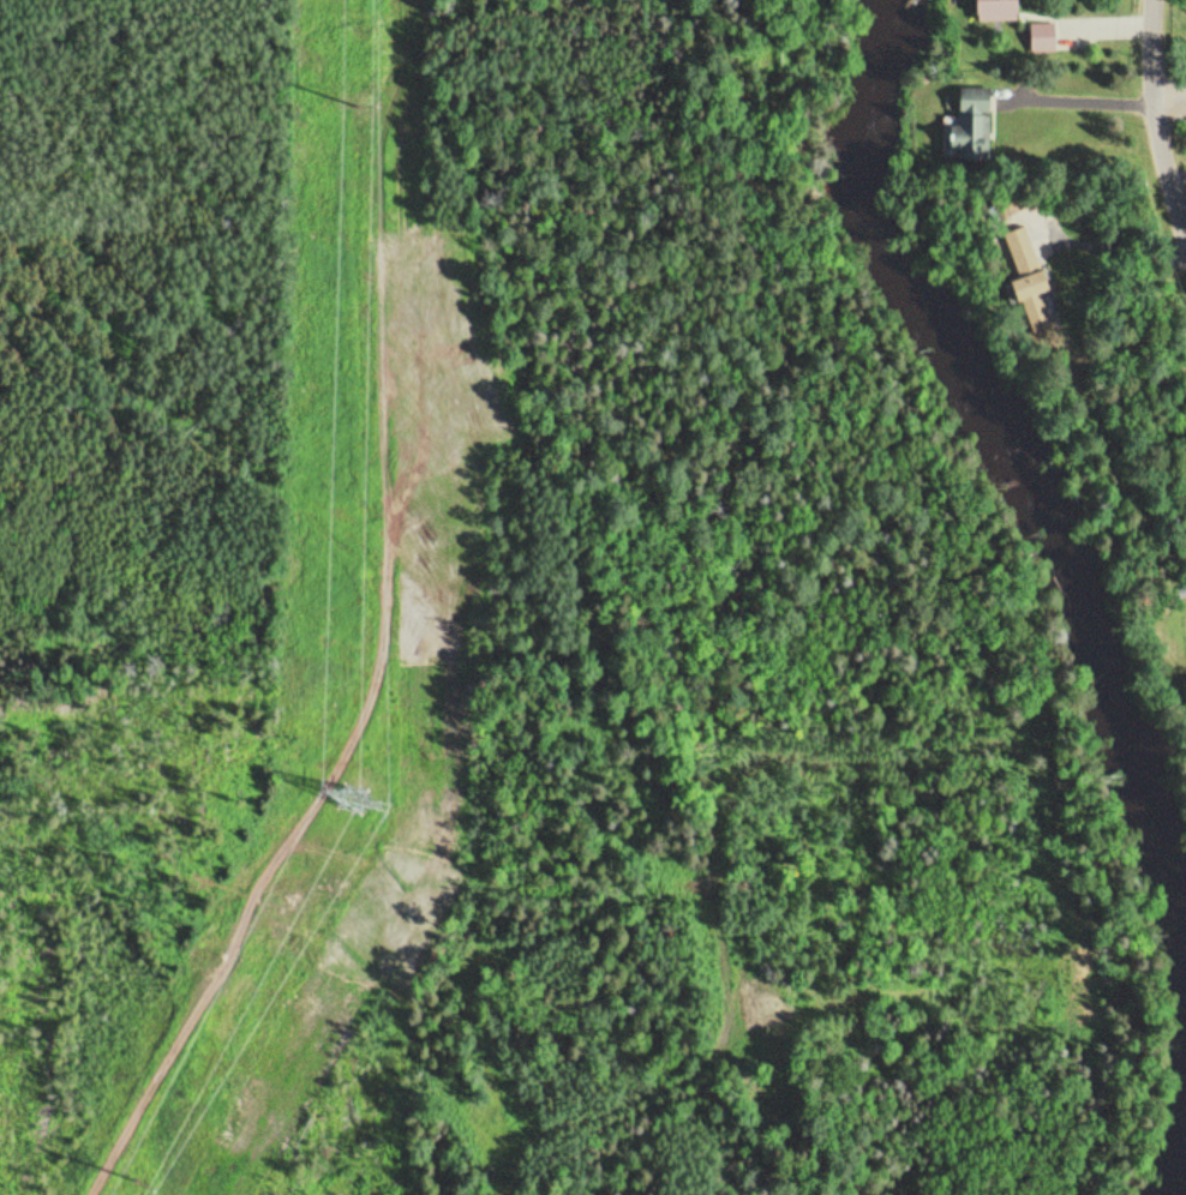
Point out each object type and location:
building: (1002, 10)
building: (1046, 37)
road: (1168, 94)
power tower: (358, 107)
building: (971, 126)
road: (1154, 126)
river: (1025, 427)
power tower: (355, 800)
power tower: (134, 1181)

